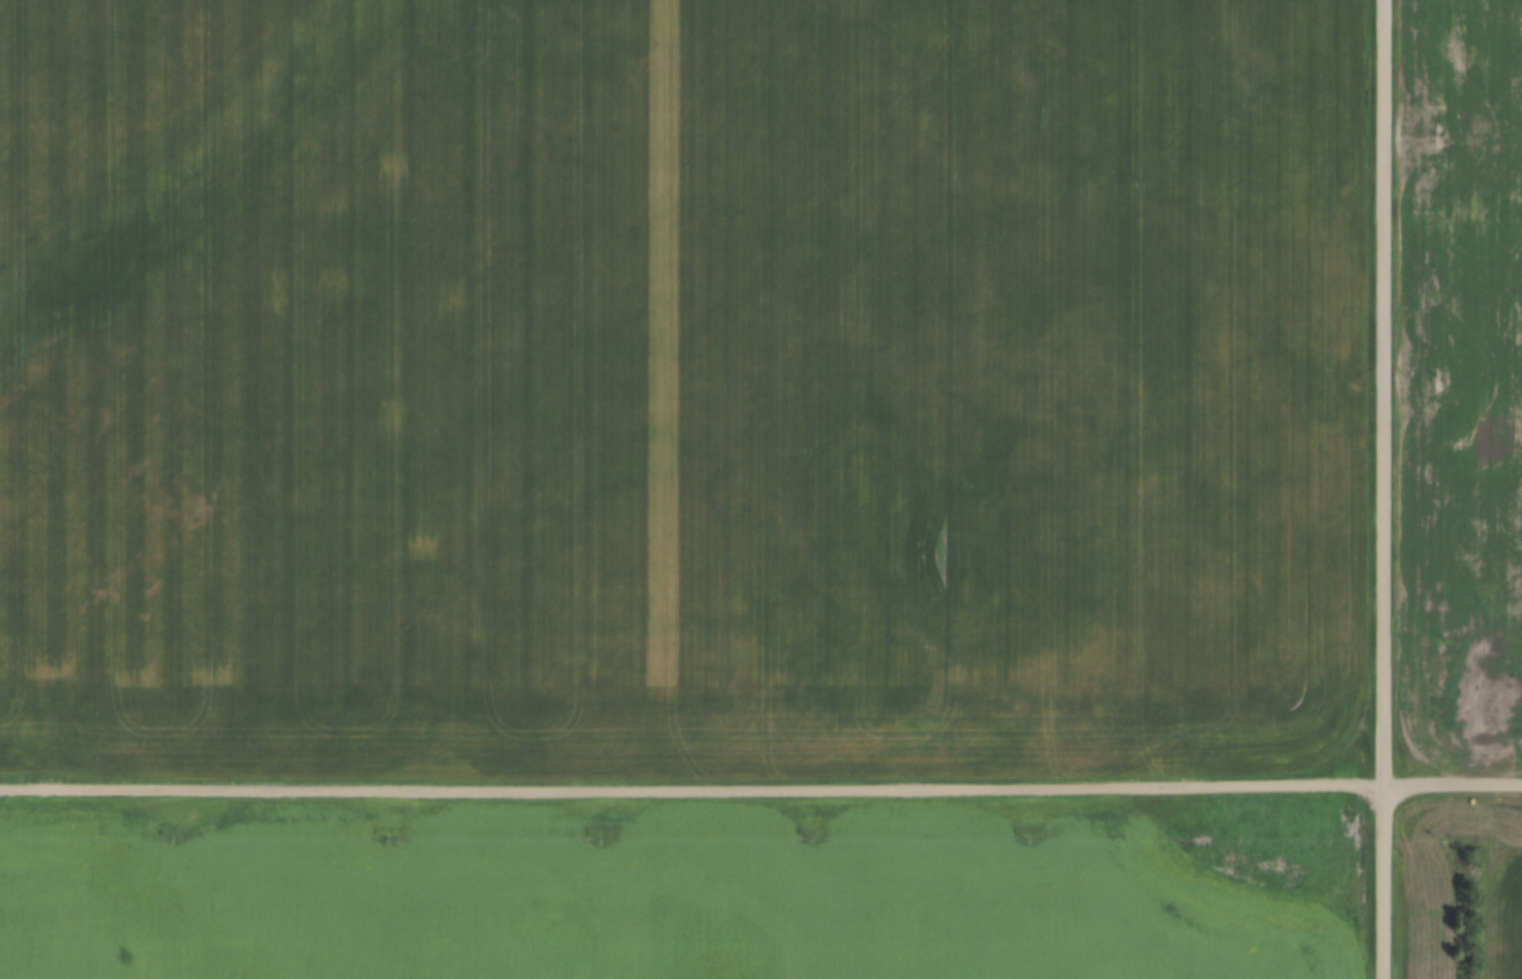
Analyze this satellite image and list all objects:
road: (1381, 489)
road: (1451, 779)
road: (690, 783)

